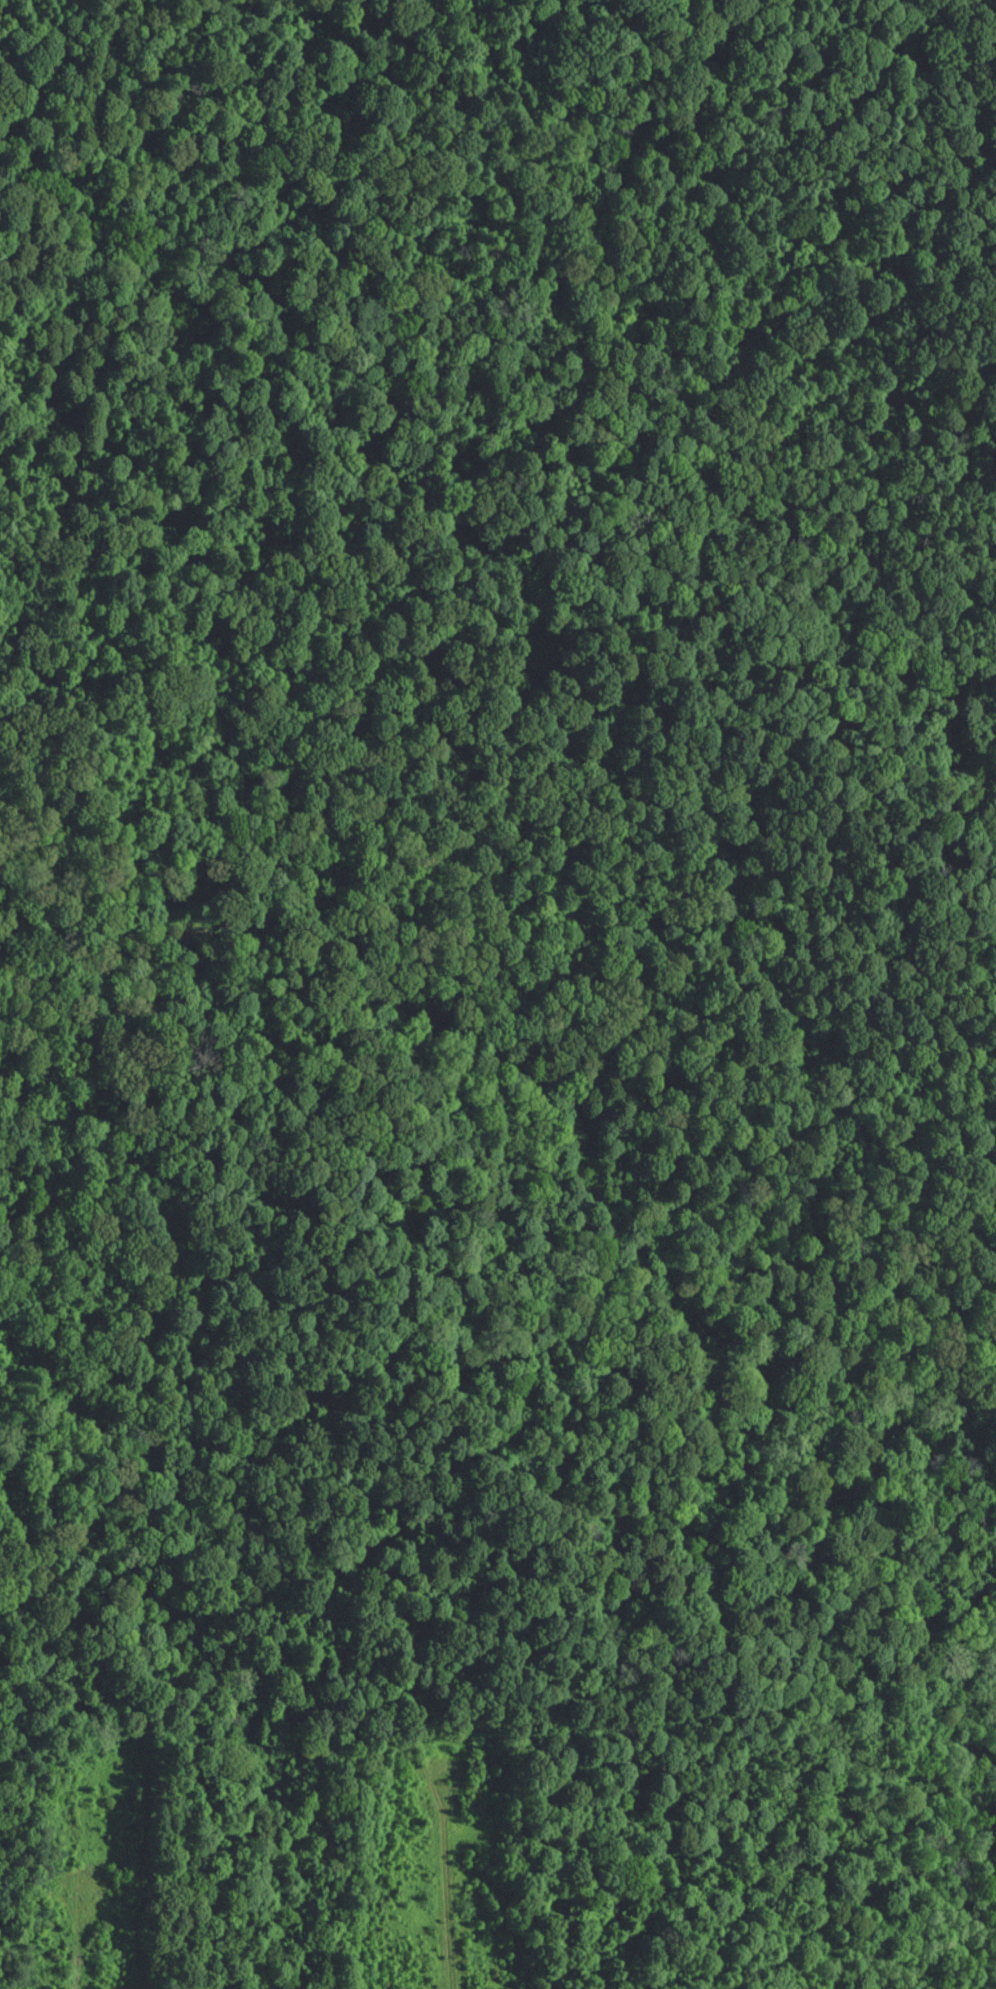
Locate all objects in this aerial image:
road: (442, 1766)
road: (452, 1899)
road: (78, 1978)

